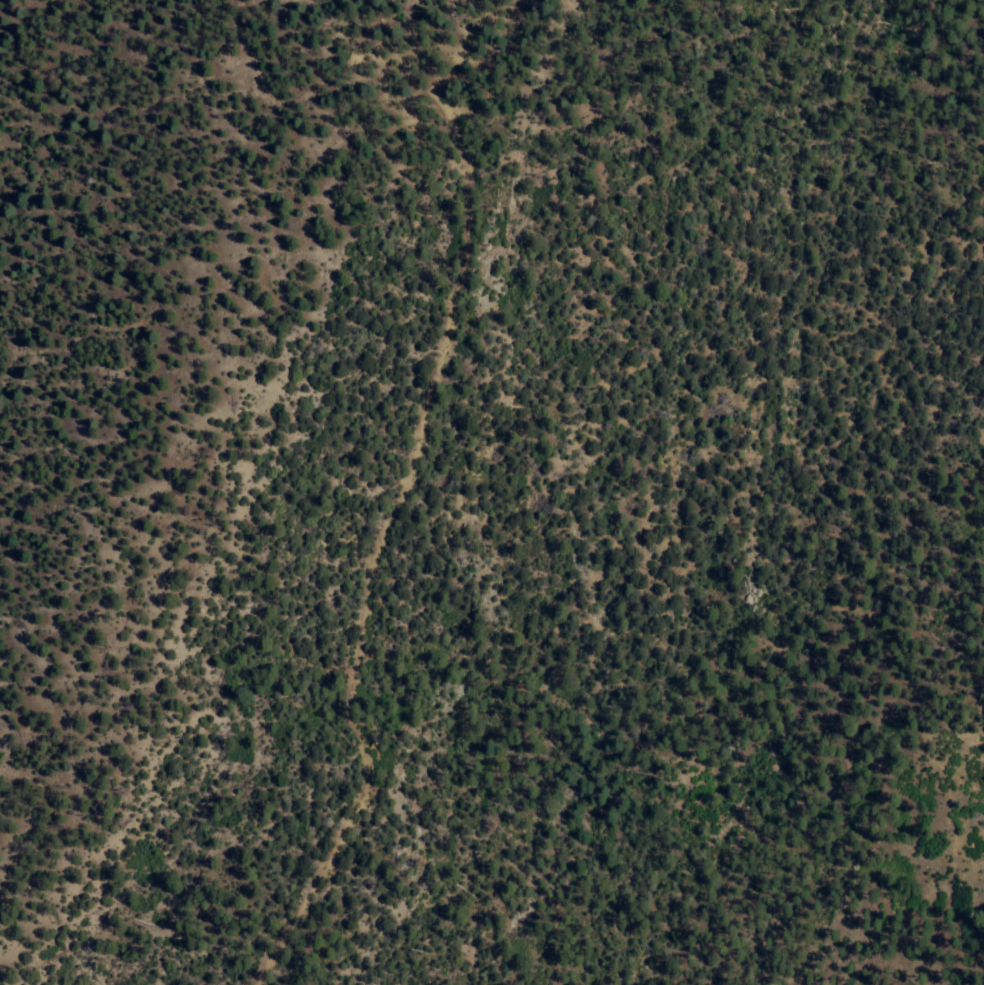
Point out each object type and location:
road: (392, 497)

